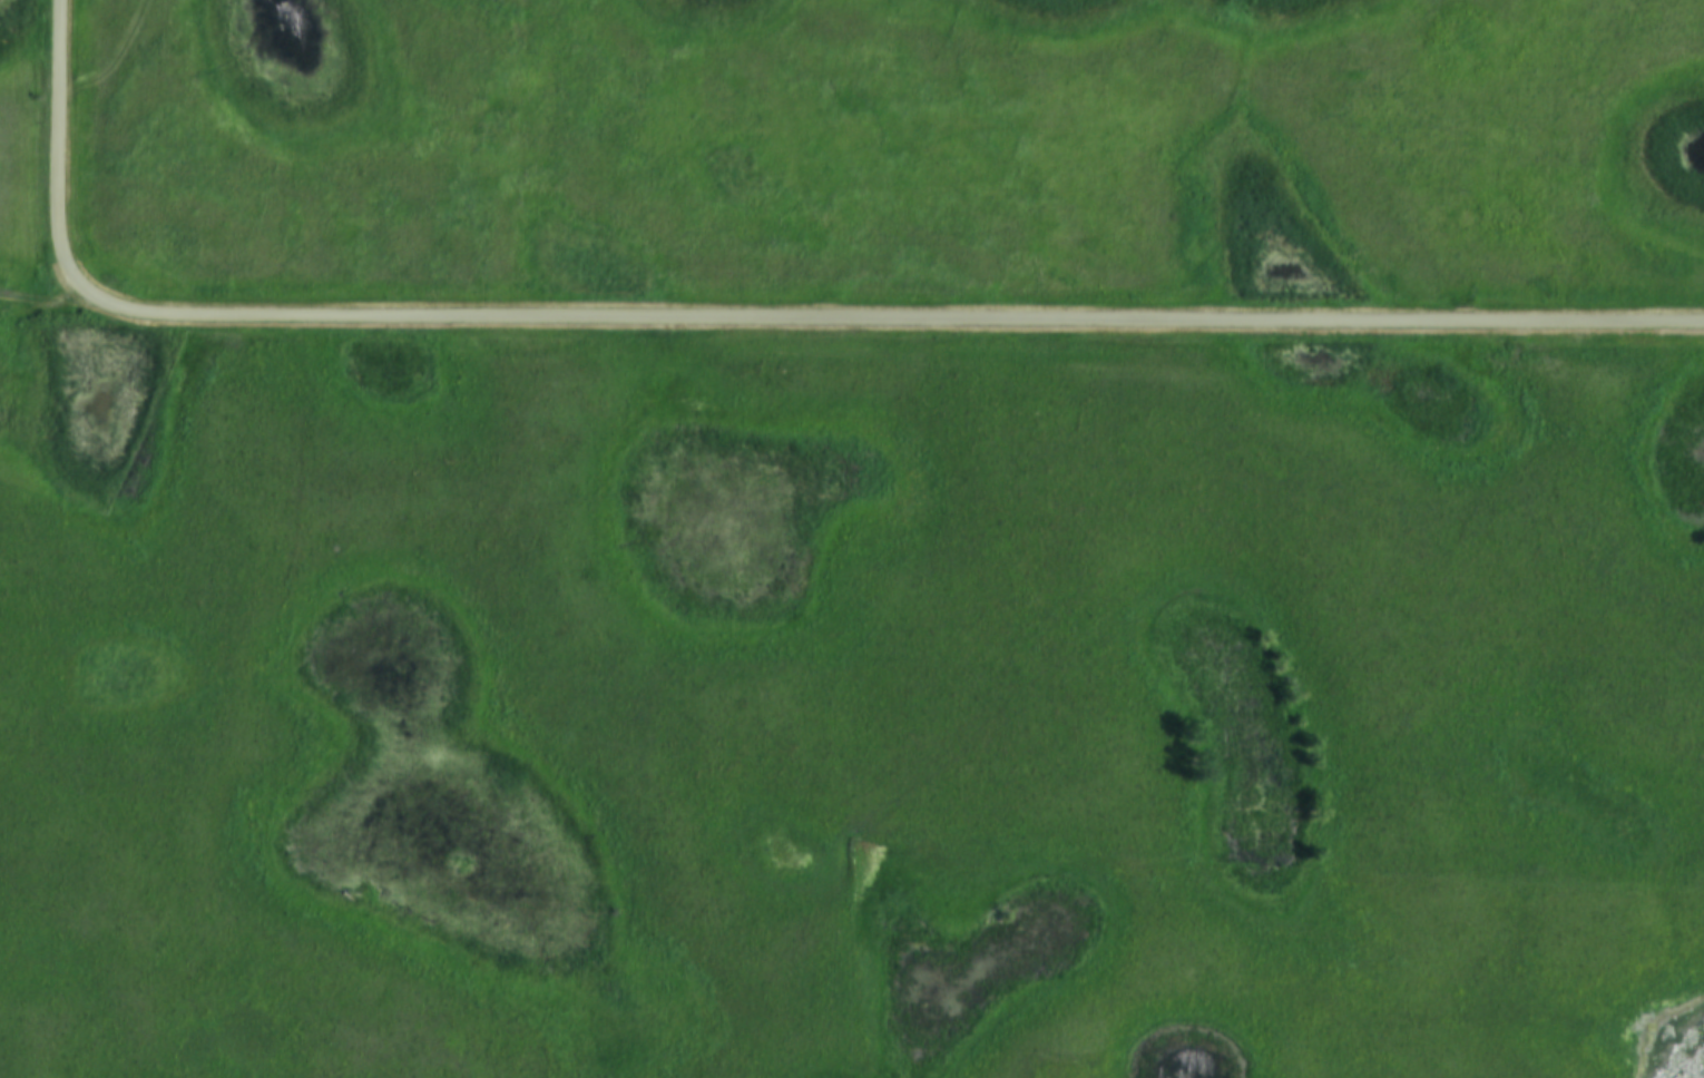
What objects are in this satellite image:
road: (62, 153)
road: (47, 310)
road: (894, 325)

